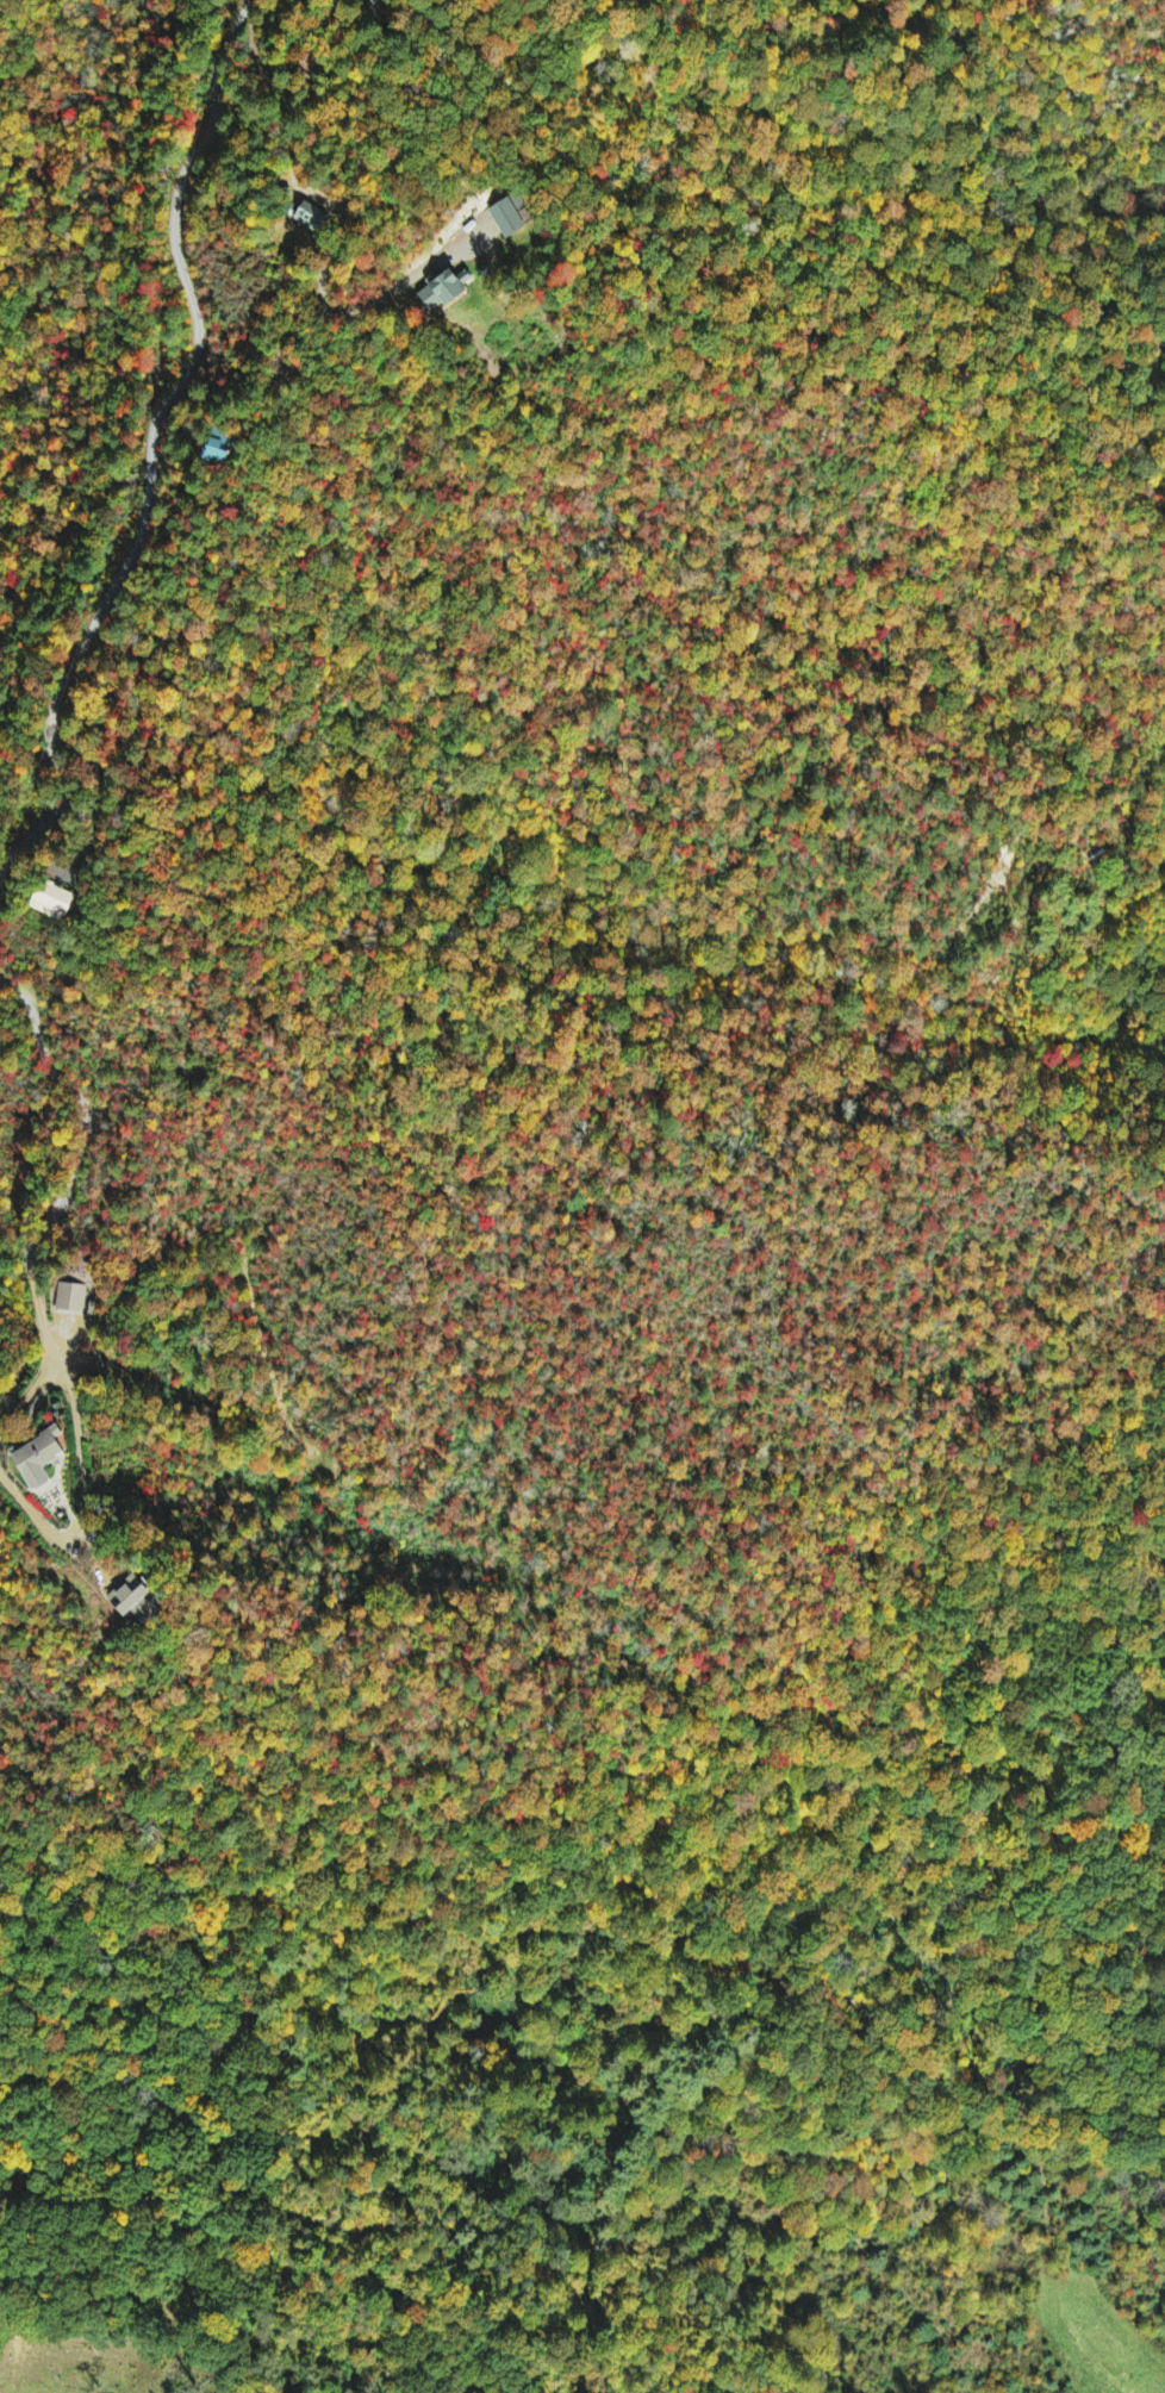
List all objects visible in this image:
road: (366, 139)
building: (314, 217)
building: (449, 288)
road: (151, 448)
building: (222, 448)
building: (54, 901)
road: (82, 1109)
building: (73, 1298)
building: (44, 1460)
building: (135, 1597)

